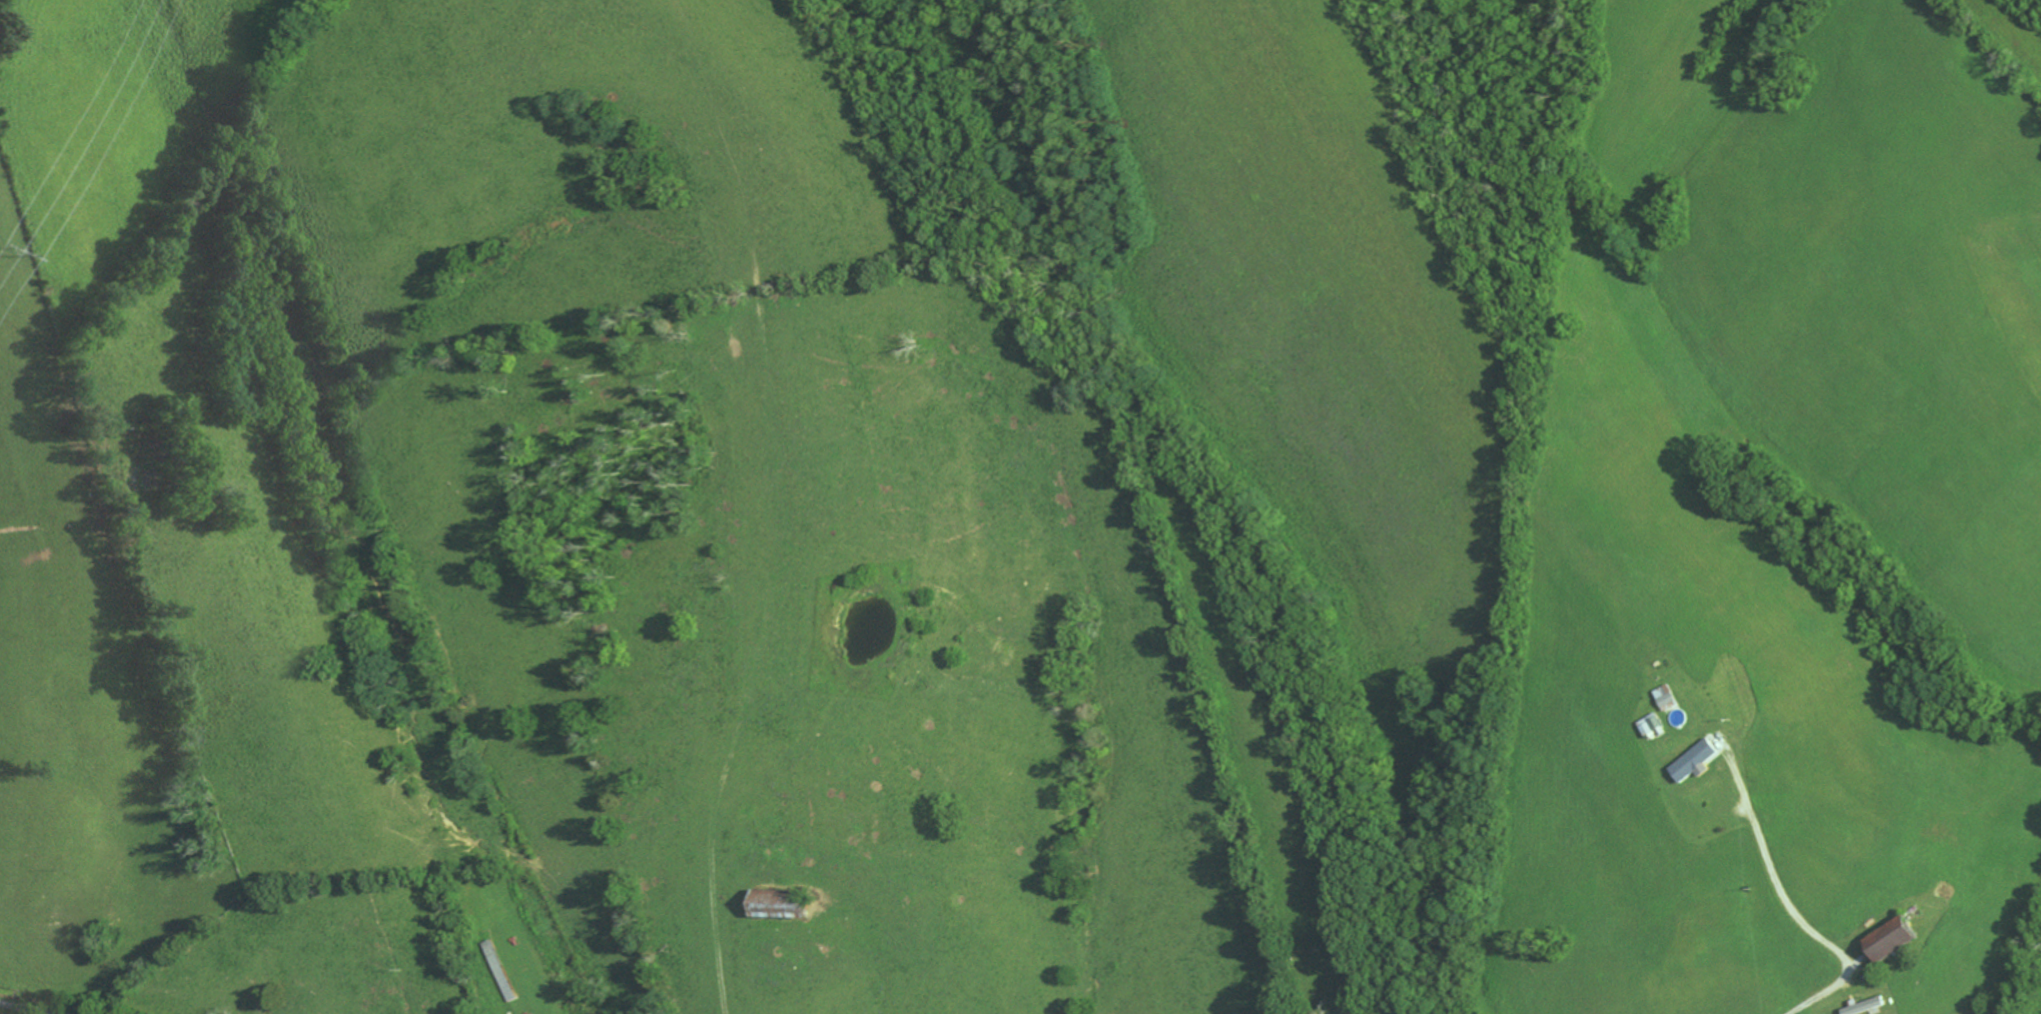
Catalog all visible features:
building: (1699, 759)
building: (1903, 933)
road: (2018, 945)
park: (1330, 977)
road: (23, 1008)

